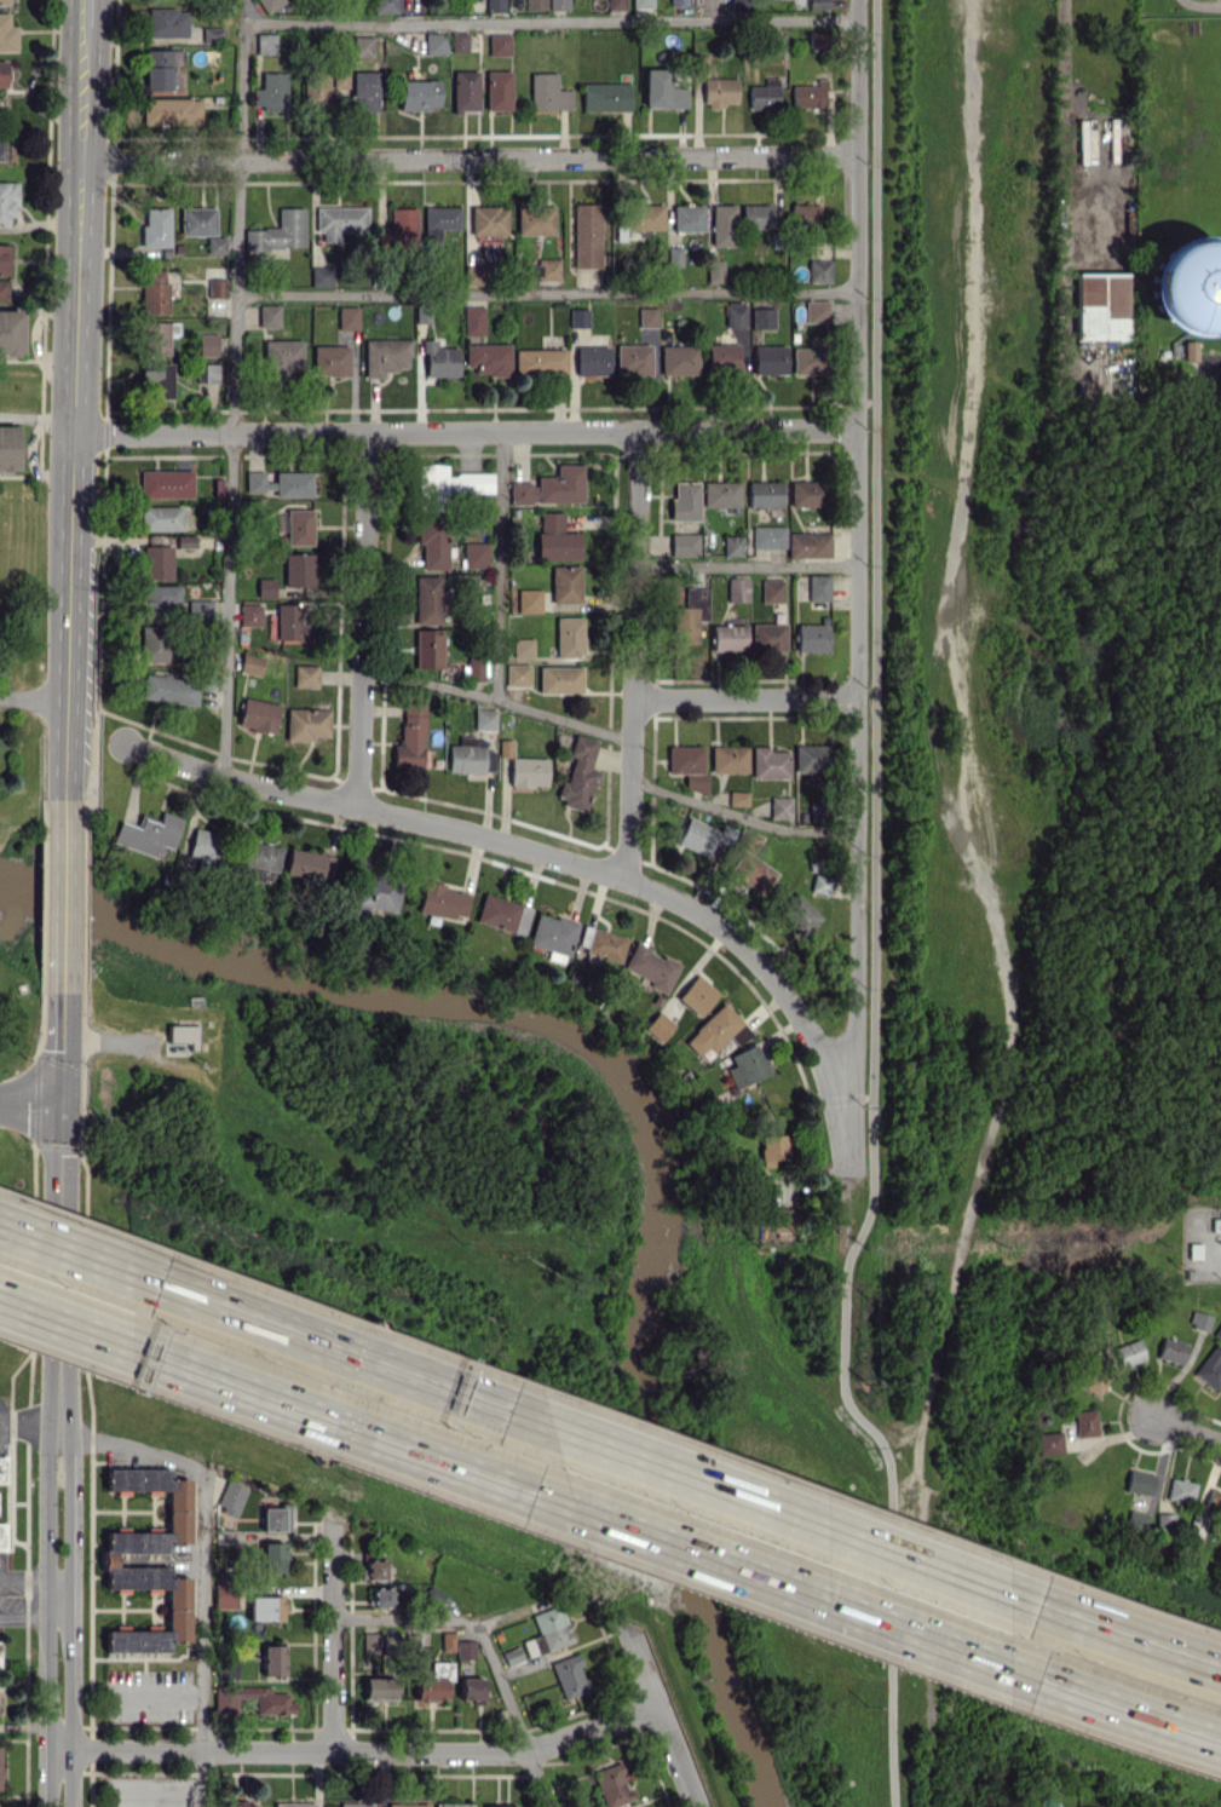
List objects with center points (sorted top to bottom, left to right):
building: (4, 2)
building: (678, 2)
building: (269, 4)
building: (408, 4)
building: (534, 4)
building: (557, 4)
building: (615, 4)
building: (641, 4)
building: (738, 4)
building: (818, 4)
road: (1203, 4)
building: (384, 6)
building: (494, 6)
road: (86, 12)
road: (551, 21)
building: (165, 22)
building: (6, 34)
building: (211, 34)
building: (818, 39)
building: (457, 41)
building: (265, 42)
building: (434, 42)
building: (497, 44)
building: (362, 46)
building: (699, 64)
building: (159, 68)
building: (2, 73)
building: (338, 79)
building: (315, 90)
building: (497, 90)
building: (662, 90)
building: (271, 91)
building: (363, 91)
building: (463, 91)
building: (719, 91)
building: (547, 92)
building: (417, 94)
building: (764, 94)
building: (808, 94)
building: (605, 97)
building: (171, 110)
road: (1066, 117)
road: (468, 157)
building: (7, 200)
building: (802, 214)
building: (756, 215)
building: (687, 217)
building: (534, 219)
building: (638, 219)
building: (196, 220)
building: (339, 220)
building: (488, 220)
building: (438, 223)
building: (401, 224)
building: (722, 224)
building: (155, 228)
building: (278, 231)
building: (586, 235)
building: (673, 255)
building: (5, 259)
building: (543, 269)
building: (714, 270)
building: (818, 270)
building: (473, 275)
building: (319, 276)
building: (215, 287)
building: (4, 288)
building: (152, 292)
road: (546, 292)
water tower: (1183, 293)
building: (1099, 305)
building: (816, 311)
building: (735, 313)
building: (267, 315)
building: (346, 317)
building: (577, 317)
building: (646, 317)
building: (762, 317)
building: (473, 321)
building: (10, 332)
building: (154, 338)
building: (207, 344)
building: (385, 356)
building: (722, 356)
building: (282, 357)
building: (488, 358)
building: (632, 358)
building: (329, 359)
building: (438, 359)
building: (592, 359)
building: (678, 359)
building: (768, 359)
building: (807, 359)
building: (540, 361)
building: (207, 372)
road: (74, 380)
building: (156, 380)
road: (232, 387)
road: (36, 418)
road: (465, 433)
building: (8, 448)
building: (257, 482)
building: (165, 483)
building: (292, 483)
building: (447, 484)
building: (551, 487)
building: (720, 493)
building: (764, 493)
building: (806, 493)
building: (684, 500)
building: (160, 517)
building: (294, 525)
building: (767, 536)
building: (555, 537)
building: (183, 540)
building: (432, 542)
building: (684, 543)
building: (732, 545)
building: (808, 545)
building: (474, 554)
building: (156, 560)
road: (747, 565)
road: (499, 566)
building: (296, 569)
building: (565, 583)
building: (264, 587)
building: (818, 587)
road: (858, 587)
building: (737, 588)
building: (771, 591)
building: (157, 598)
building: (426, 599)
building: (530, 600)
building: (198, 610)
building: (690, 612)
building: (248, 614)
road: (362, 618)
building: (289, 620)
building: (568, 637)
building: (727, 637)
building: (767, 637)
building: (811, 637)
building: (154, 643)
building: (522, 646)
building: (426, 648)
road: (633, 655)
building: (249, 663)
building: (473, 671)
building: (517, 674)
building: (304, 675)
building: (559, 679)
building: (168, 689)
road: (33, 698)
road: (745, 698)
road: (497, 700)
building: (257, 714)
building: (484, 719)
building: (305, 723)
building: (409, 736)
building: (468, 755)
building: (728, 758)
building: (812, 758)
building: (768, 762)
building: (687, 765)
building: (526, 772)
building: (577, 773)
building: (737, 798)
building: (779, 807)
building: (816, 811)
road: (741, 815)
road: (62, 828)
building: (146, 834)
building: (702, 835)
building: (202, 846)
road: (528, 850)
building: (258, 858)
building: (306, 864)
building: (751, 865)
building: (820, 884)
building: (373, 888)
building: (439, 900)
railway: (902, 903)
road: (987, 908)
building: (799, 913)
road: (874, 913)
building: (501, 914)
building: (551, 936)
building: (599, 943)
building: (649, 967)
road: (59, 973)
building: (695, 995)
park: (5, 1003)
building: (656, 1026)
building: (715, 1030)
building: (178, 1035)
building: (744, 1065)
road: (59, 1067)
road: (840, 1098)
road: (29, 1106)
traffic signals: (59, 1110)
river: (661, 1110)
building: (772, 1146)
road: (59, 1156)
road: (842, 1221)
power substation: (1199, 1244)
road: (77, 1255)
road: (59, 1290)
building: (1100, 1312)
building: (1199, 1319)
road: (76, 1330)
building: (1217, 1331)
building: (1171, 1350)
building: (1129, 1353)
road: (349, 1354)
building: (1210, 1368)
building: (1095, 1380)
road: (0, 1418)
building: (1085, 1422)
road: (29, 1425)
road: (894, 1426)
road: (1188, 1429)
road: (359, 1434)
building: (1049, 1443)
building: (2, 1469)
building: (1140, 1481)
building: (1182, 1489)
building: (231, 1497)
building: (1214, 1500)
road: (787, 1514)
building: (276, 1519)
building: (1138, 1521)
building: (2, 1536)
building: (272, 1556)
building: (109, 1559)
road: (203, 1566)
building: (376, 1569)
road: (30, 1577)
road: (61, 1593)
building: (225, 1596)
building: (381, 1596)
road: (797, 1596)
building: (266, 1607)
road: (30, 1618)
building: (546, 1632)
road: (333, 1634)
road: (1125, 1639)
building: (447, 1641)
building: (369, 1642)
building: (392, 1642)
building: (0, 1645)
building: (465, 1648)
road: (486, 1648)
building: (511, 1656)
building: (273, 1659)
building: (568, 1675)
building: (378, 1687)
building: (430, 1688)
building: (470, 1688)
road: (159, 1693)
building: (273, 1705)
road: (1125, 1713)
road: (652, 1720)
road: (358, 1750)
building: (610, 1784)
building: (238, 1805)
building: (293, 1805)
building: (355, 1805)
building: (405, 1805)
building: (451, 1805)
building: (499, 1806)
building: (1087, 1806)

